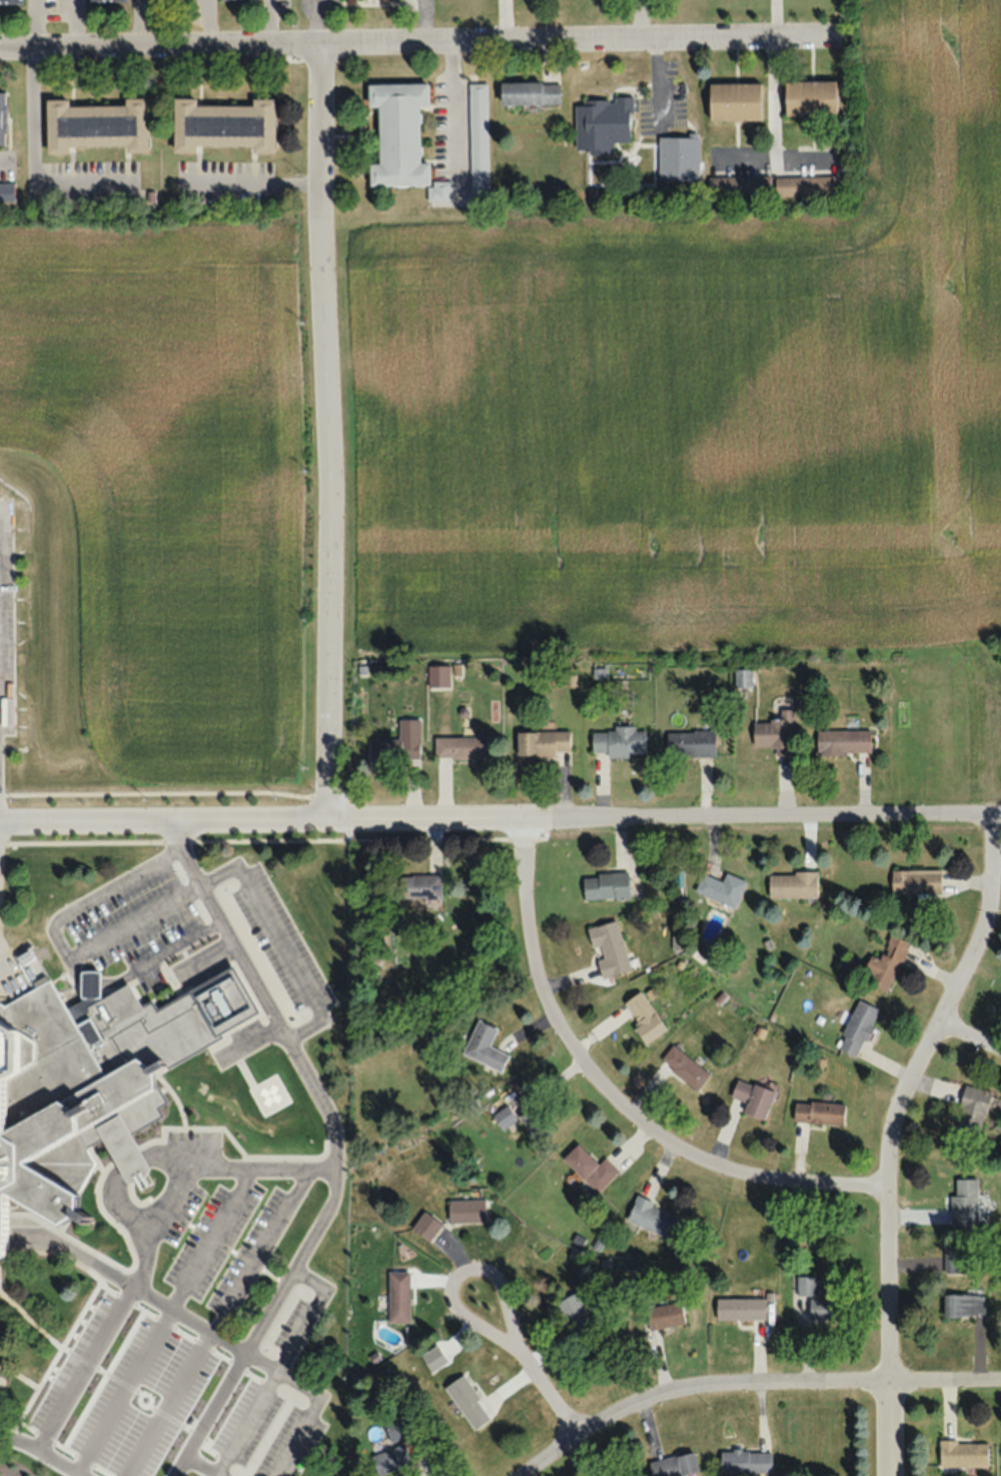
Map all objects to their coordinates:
building: (106, 0)
building: (9, 1)
road: (595, 45)
road: (159, 49)
building: (530, 93)
building: (810, 97)
building: (734, 101)
building: (2, 118)
building: (97, 124)
building: (223, 124)
building: (601, 124)
building: (401, 138)
building: (478, 142)
building: (678, 158)
building: (738, 184)
building: (805, 184)
building: (6, 192)
road: (323, 433)
building: (742, 679)
building: (775, 733)
building: (843, 741)
building: (619, 742)
building: (542, 743)
building: (690, 743)
building: (462, 747)
building: (393, 749)
road: (251, 819)
road: (88, 820)
road: (663, 823)
road: (254, 839)
building: (916, 881)
building: (792, 884)
building: (605, 885)
building: (418, 886)
building: (721, 888)
parking lot: (136, 920)
parking lot: (278, 939)
road: (278, 940)
road: (58, 943)
building: (608, 949)
building: (885, 964)
road: (142, 965)
road: (260, 991)
building: (644, 1018)
building: (857, 1029)
road: (968, 1043)
building: (484, 1047)
building: (684, 1067)
building: (92, 1080)
road: (904, 1093)
helipad: (269, 1094)
building: (750, 1099)
road: (612, 1100)
building: (818, 1112)
building: (971, 1113)
building: (503, 1116)
building: (537, 1122)
road: (290, 1166)
building: (590, 1167)
road: (119, 1172)
road: (165, 1198)
building: (964, 1202)
building: (467, 1209)
building: (650, 1217)
road: (320, 1220)
road: (66, 1245)
building: (954, 1259)
building: (805, 1285)
building: (399, 1296)
building: (964, 1305)
building: (741, 1308)
building: (824, 1308)
road: (270, 1311)
building: (663, 1316)
building: (576, 1317)
road: (162, 1319)
road: (218, 1321)
road: (98, 1327)
parking lot: (189, 1327)
road: (530, 1363)
road: (270, 1381)
road: (747, 1387)
road: (315, 1399)
road: (216, 1402)
building: (468, 1402)
building: (398, 1426)
road: (889, 1429)
road: (16, 1435)
building: (963, 1452)
building: (390, 1458)
building: (746, 1460)
road: (178, 1464)
building: (674, 1464)
road: (219, 1474)
building: (616, 1475)

